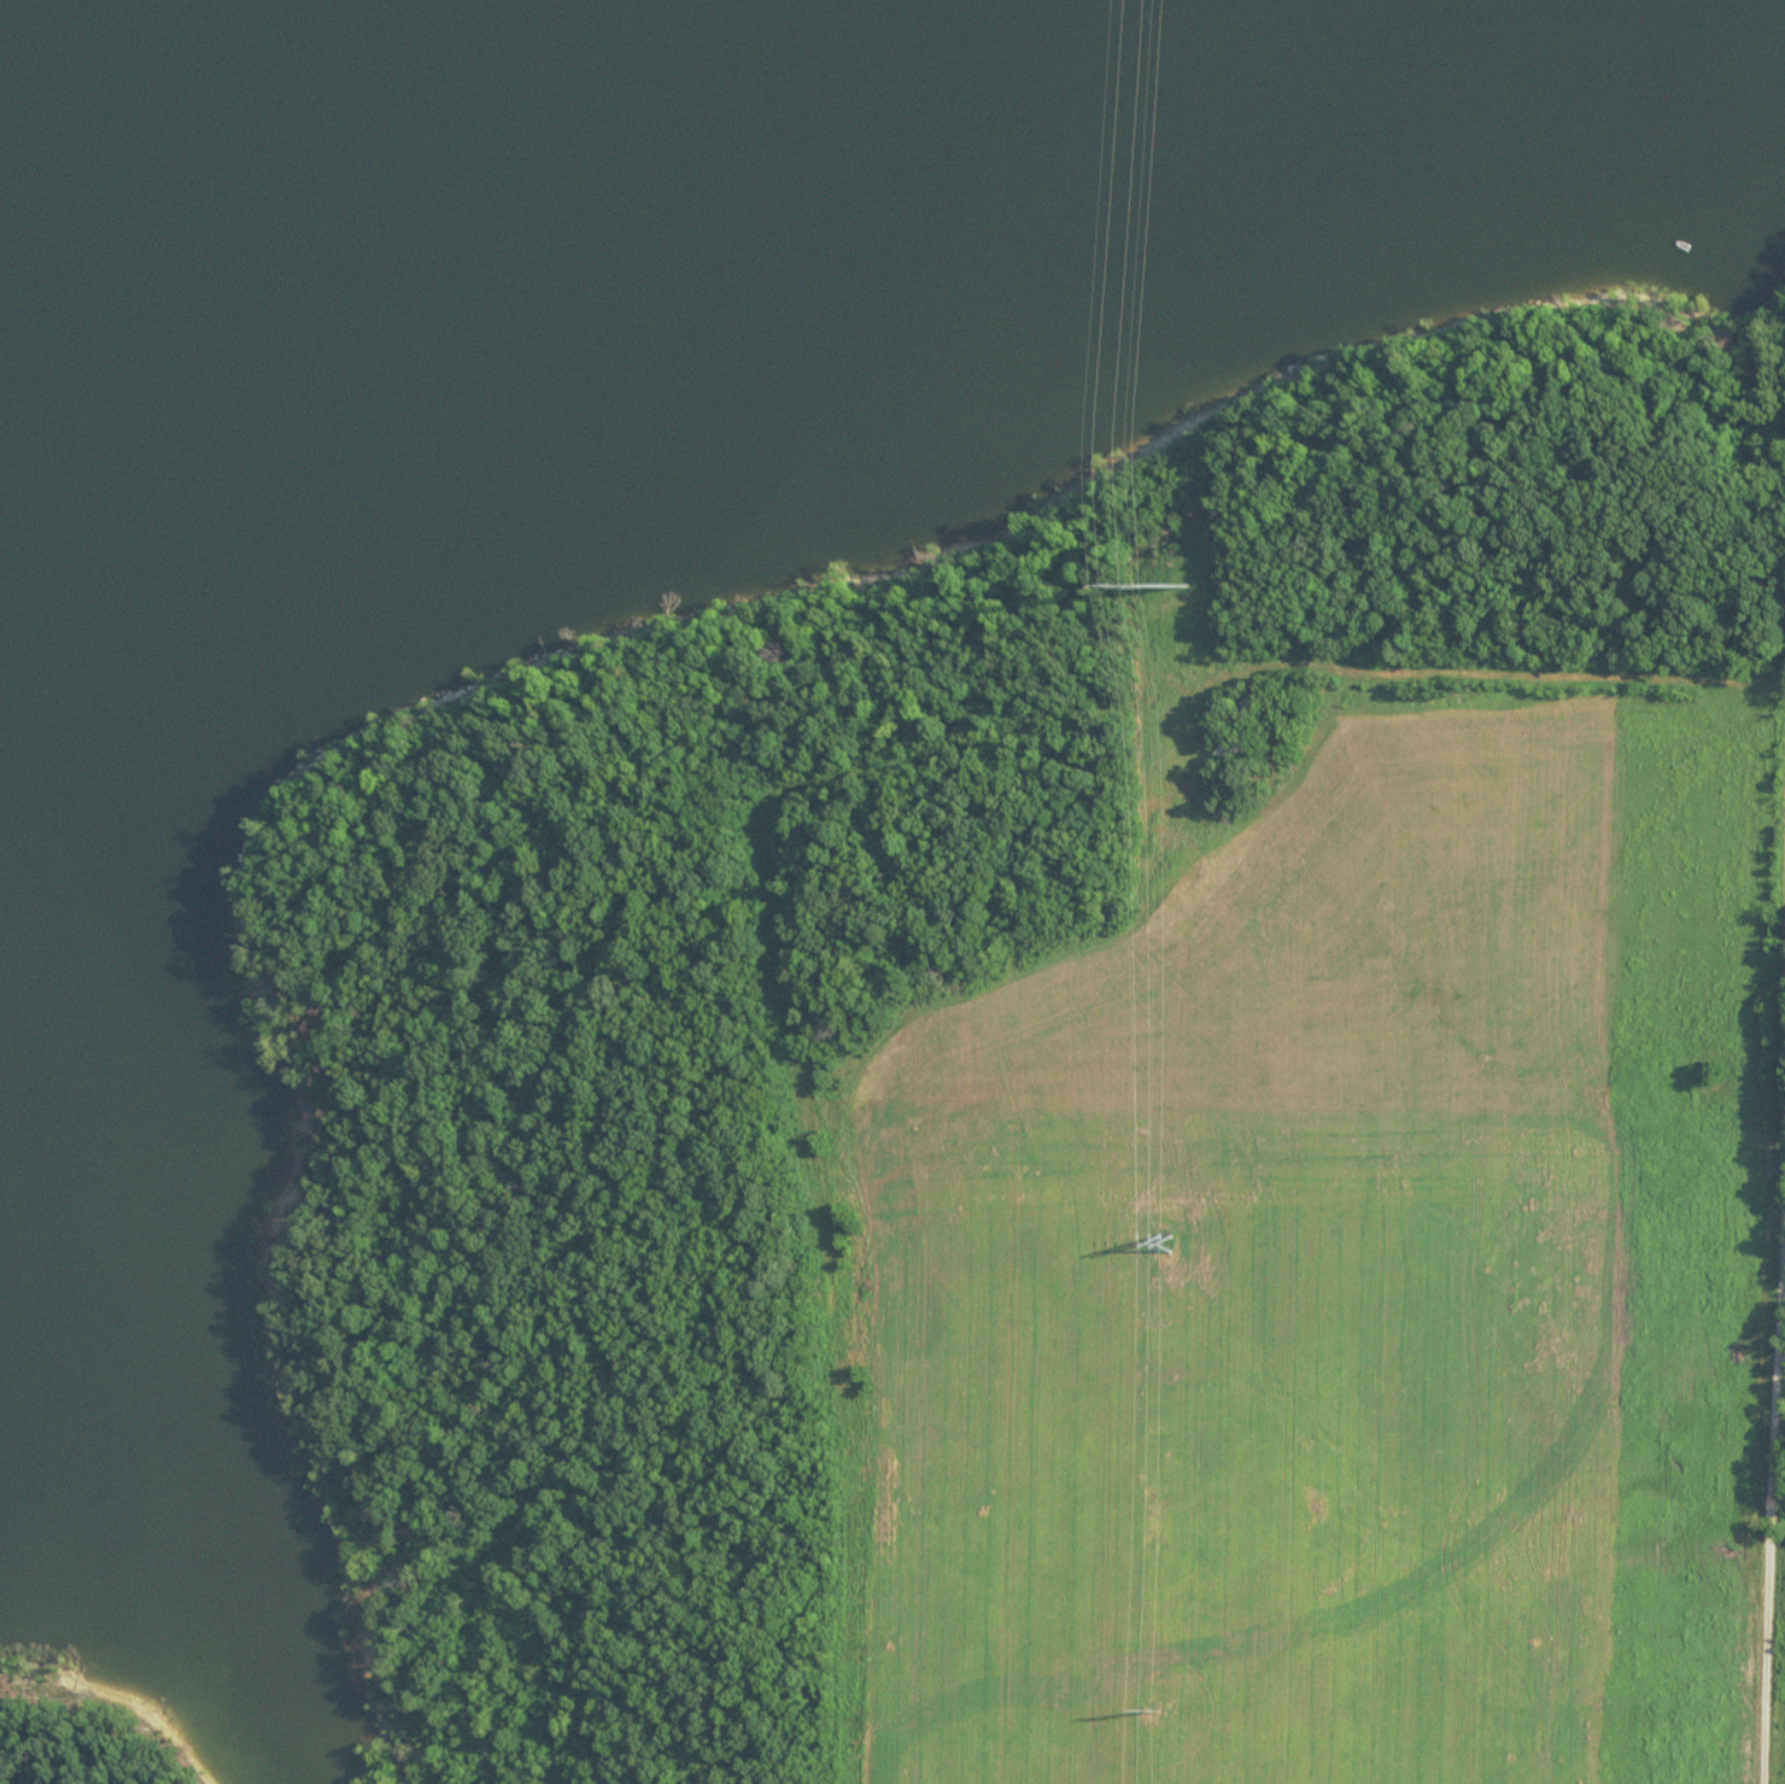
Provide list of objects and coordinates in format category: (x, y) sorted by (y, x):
road: (1772, 1467)

